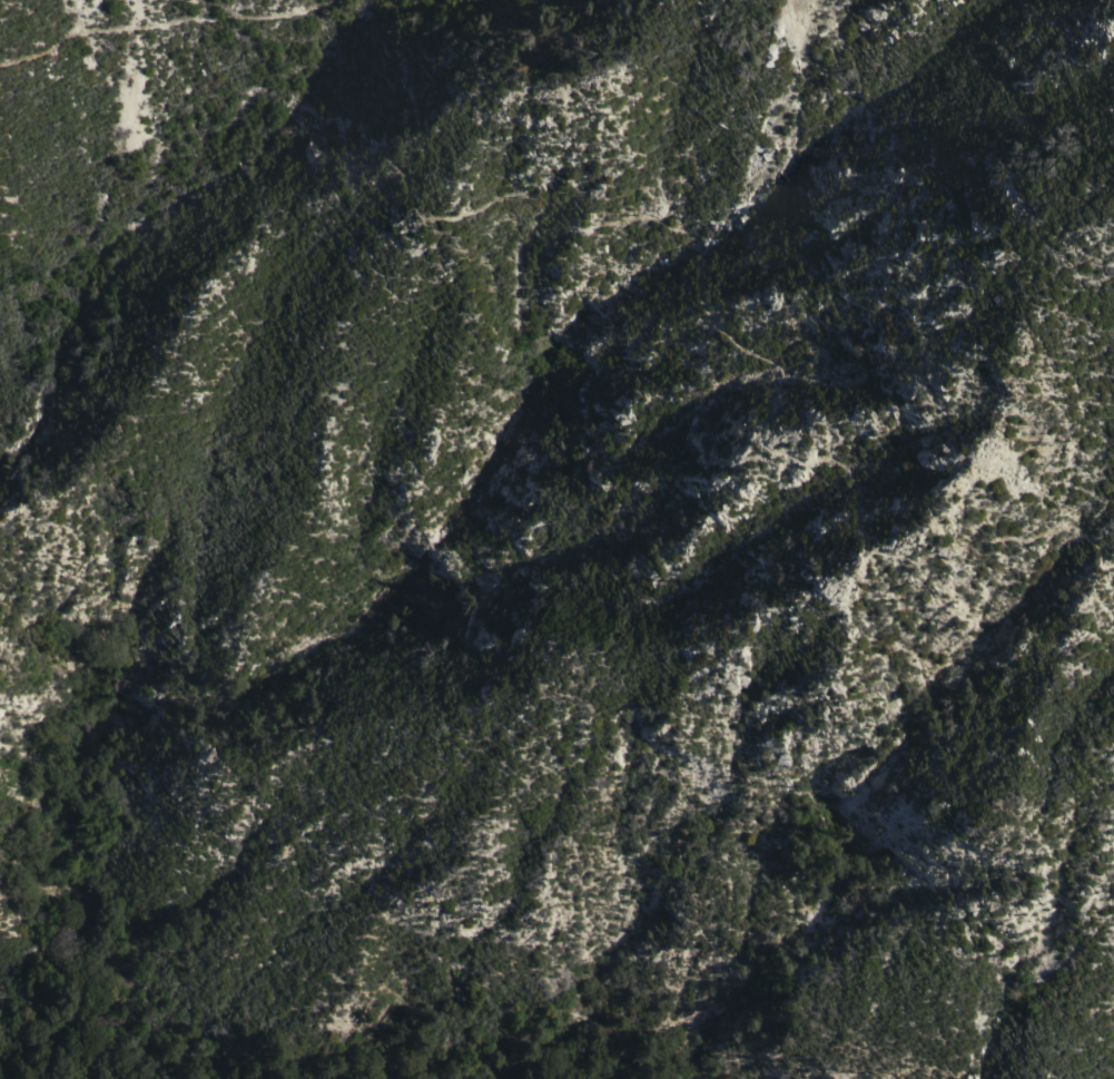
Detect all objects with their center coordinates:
road: (614, 218)

